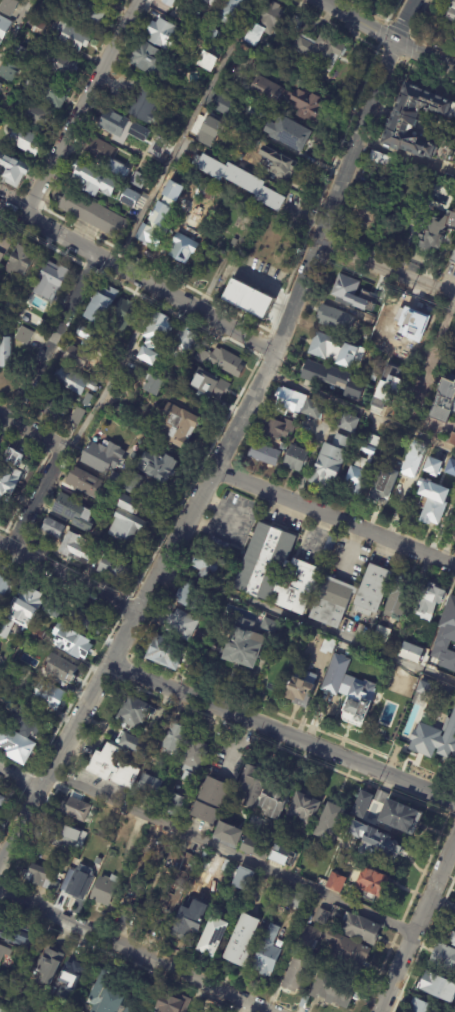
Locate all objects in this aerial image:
building: (210, 2)
building: (169, 3)
building: (11, 7)
building: (233, 11)
building: (88, 12)
building: (452, 15)
road: (402, 20)
building: (269, 23)
road: (14, 26)
building: (40, 26)
building: (200, 28)
building: (213, 31)
building: (166, 34)
road: (383, 36)
building: (74, 37)
building: (1, 39)
building: (454, 41)
building: (265, 51)
building: (323, 51)
building: (22, 52)
building: (153, 59)
building: (278, 60)
building: (210, 61)
building: (61, 63)
building: (11, 71)
building: (2, 89)
building: (272, 90)
building: (50, 91)
building: (225, 104)
building: (310, 104)
building: (147, 105)
road: (80, 108)
building: (35, 115)
building: (120, 124)
building: (418, 126)
building: (210, 131)
building: (139, 132)
road: (184, 132)
building: (293, 133)
building: (28, 141)
building: (254, 142)
building: (158, 146)
building: (281, 164)
building: (13, 168)
building: (379, 168)
building: (120, 169)
building: (89, 174)
building: (175, 174)
building: (140, 180)
building: (245, 183)
building: (211, 193)
building: (131, 199)
building: (366, 213)
building: (94, 215)
building: (133, 215)
road: (305, 217)
building: (153, 229)
building: (436, 232)
building: (235, 242)
building: (5, 247)
building: (187, 247)
building: (453, 259)
building: (23, 262)
road: (383, 271)
road: (136, 277)
building: (53, 280)
building: (348, 290)
road: (454, 295)
building: (250, 300)
building: (103, 305)
building: (10, 307)
building: (374, 313)
building: (126, 314)
building: (369, 319)
building: (335, 320)
building: (29, 321)
building: (85, 333)
building: (24, 335)
road: (51, 337)
building: (156, 337)
road: (437, 339)
building: (186, 342)
building: (88, 344)
building: (321, 346)
building: (6, 352)
building: (202, 356)
building: (78, 357)
building: (97, 357)
building: (228, 361)
building: (107, 364)
road: (112, 373)
building: (336, 379)
building: (74, 381)
building: (184, 384)
building: (155, 385)
building: (215, 388)
building: (387, 389)
building: (443, 400)
building: (297, 402)
building: (87, 405)
building: (54, 406)
building: (118, 408)
road: (358, 413)
building: (78, 415)
building: (347, 420)
building: (179, 426)
building: (275, 426)
road: (31, 433)
building: (452, 438)
building: (283, 445)
building: (265, 453)
building: (134, 455)
building: (104, 457)
building: (412, 457)
building: (296, 458)
road: (216, 459)
building: (329, 459)
building: (361, 461)
building: (160, 466)
building: (432, 466)
building: (450, 467)
building: (447, 476)
building: (117, 478)
building: (10, 482)
building: (137, 483)
building: (383, 483)
building: (87, 485)
road: (35, 501)
building: (127, 503)
building: (434, 507)
building: (76, 512)
road: (333, 518)
building: (127, 527)
building: (54, 528)
building: (218, 543)
building: (329, 544)
building: (80, 548)
building: (205, 563)
building: (117, 569)
building: (274, 569)
building: (227, 575)
road: (67, 580)
building: (4, 589)
building: (185, 595)
building: (351, 595)
building: (399, 595)
building: (429, 597)
building: (58, 611)
building: (23, 612)
building: (158, 618)
building: (91, 620)
building: (182, 624)
road: (308, 624)
building: (269, 626)
building: (37, 634)
building: (381, 634)
building: (446, 636)
building: (244, 643)
building: (328, 643)
building: (75, 644)
building: (164, 651)
building: (410, 651)
building: (62, 667)
building: (12, 678)
building: (425, 681)
building: (424, 688)
building: (350, 691)
building: (299, 692)
building: (49, 695)
building: (392, 702)
building: (131, 711)
building: (32, 723)
road: (281, 733)
building: (174, 737)
building: (426, 737)
building: (132, 743)
building: (14, 745)
building: (192, 759)
building: (111, 766)
road: (18, 782)
building: (149, 784)
building: (248, 785)
building: (379, 796)
building: (208, 800)
building: (3, 802)
building: (271, 802)
building: (173, 804)
building: (361, 805)
building: (74, 809)
building: (302, 809)
building: (396, 815)
building: (331, 817)
building: (109, 819)
building: (226, 833)
building: (66, 835)
building: (371, 840)
building: (253, 848)
road: (228, 855)
building: (283, 855)
building: (204, 858)
building: (228, 867)
building: (198, 872)
building: (41, 878)
building: (242, 878)
building: (335, 882)
building: (75, 883)
building: (137, 883)
building: (374, 883)
building: (104, 890)
building: (292, 898)
road: (440, 904)
building: (321, 917)
road: (415, 921)
building: (188, 922)
building: (359, 928)
building: (17, 932)
building: (214, 934)
building: (309, 937)
building: (243, 938)
building: (452, 939)
building: (268, 950)
building: (294, 950)
building: (346, 951)
road: (133, 952)
building: (3, 954)
building: (443, 958)
building: (55, 964)
building: (76, 972)
building: (295, 975)
building: (438, 987)
building: (331, 989)
building: (110, 995)
building: (174, 1002)
building: (420, 1006)
building: (2, 1010)
building: (210, 1011)

